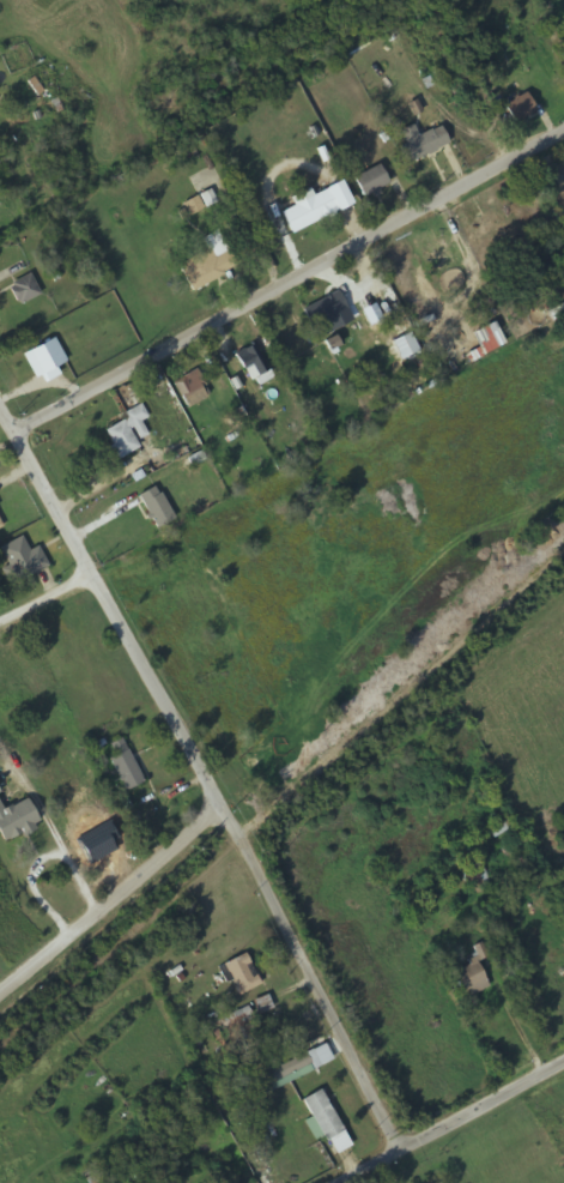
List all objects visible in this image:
building: (520, 108)
building: (422, 143)
building: (370, 182)
building: (563, 193)
building: (310, 211)
building: (441, 255)
building: (206, 266)
road: (293, 283)
building: (24, 290)
building: (325, 309)
building: (253, 364)
building: (190, 390)
building: (126, 433)
building: (156, 507)
building: (0, 526)
building: (22, 559)
building: (123, 766)
road: (207, 768)
railway: (281, 796)
building: (16, 820)
building: (473, 874)
road: (115, 901)
building: (238, 974)
building: (469, 978)
building: (286, 1069)
building: (321, 1115)
road: (454, 1123)

